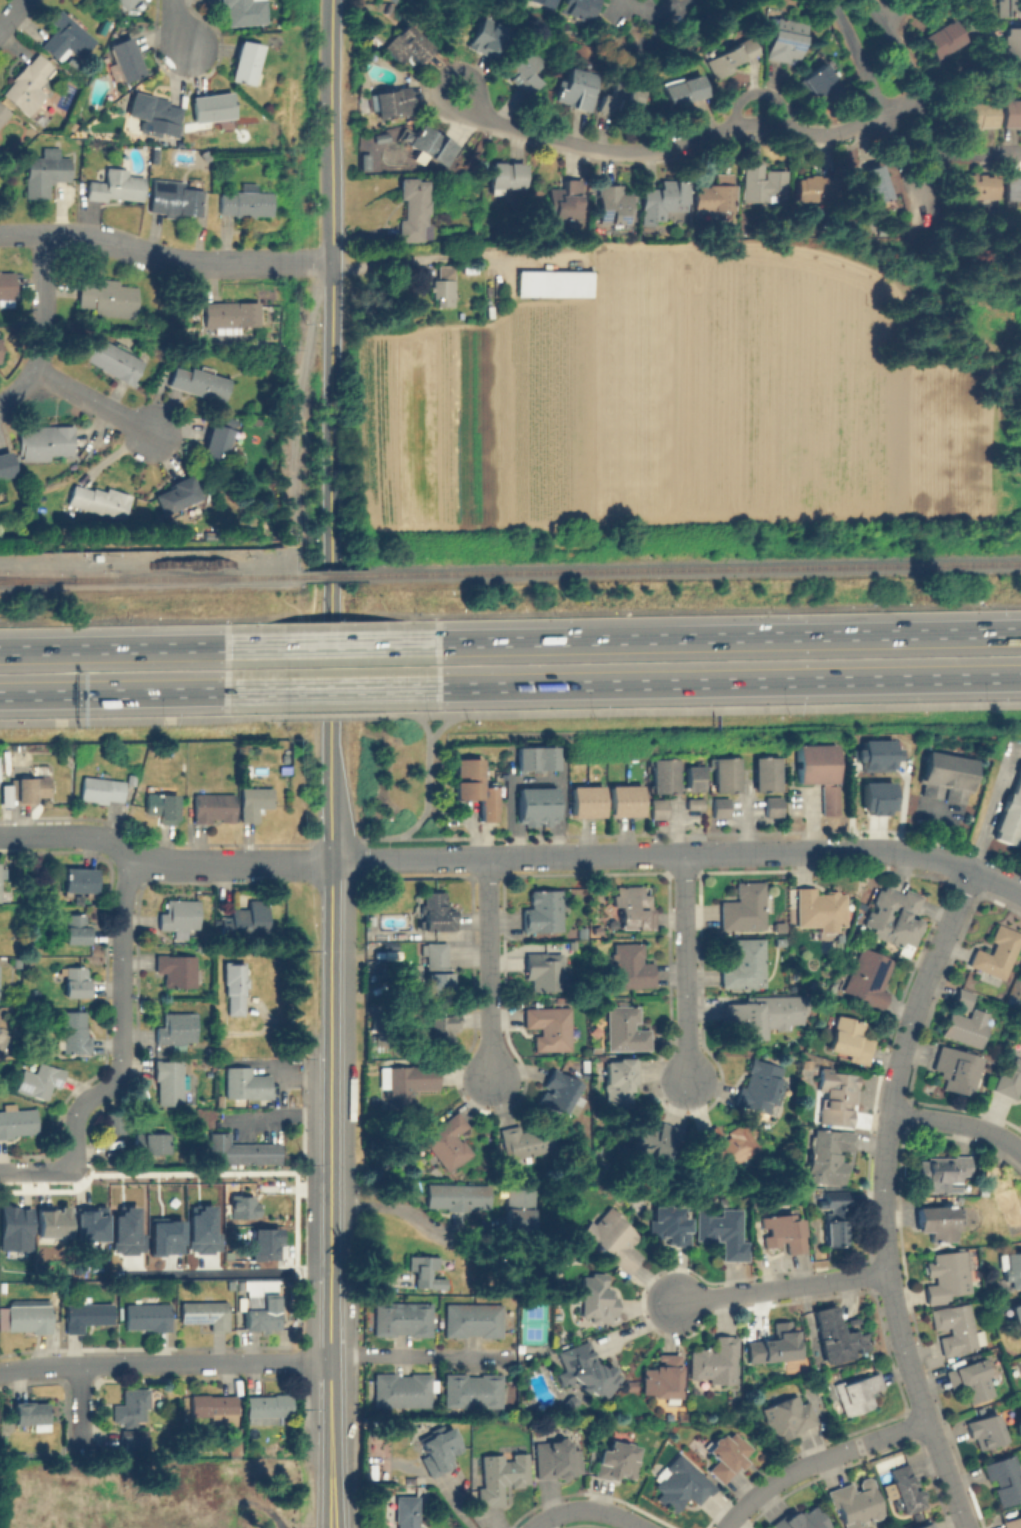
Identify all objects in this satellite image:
building: (394, 1)
building: (128, 2)
building: (550, 2)
building: (1010, 7)
road: (896, 8)
building: (580, 9)
building: (391, 10)
building: (247, 11)
road: (12, 14)
road: (660, 15)
road: (178, 23)
building: (67, 35)
building: (946, 38)
building: (490, 40)
building: (788, 40)
building: (1013, 45)
building: (408, 46)
building: (733, 55)
building: (127, 56)
building: (248, 60)
building: (525, 67)
building: (29, 82)
building: (825, 83)
building: (685, 85)
building: (578, 89)
building: (623, 98)
building: (392, 101)
building: (214, 106)
building: (3, 111)
building: (1011, 112)
building: (156, 113)
building: (979, 113)
building: (73, 122)
building: (380, 136)
road: (684, 139)
building: (430, 143)
road: (977, 151)
building: (182, 155)
building: (155, 156)
building: (365, 163)
building: (46, 172)
building: (508, 175)
building: (764, 182)
building: (116, 183)
building: (873, 185)
building: (978, 187)
building: (1014, 187)
building: (817, 189)
building: (666, 194)
building: (717, 194)
building: (175, 198)
road: (920, 199)
building: (567, 200)
building: (246, 201)
road: (333, 203)
building: (616, 204)
building: (416, 210)
road: (922, 213)
road: (585, 250)
road: (164, 260)
building: (554, 282)
building: (445, 285)
building: (7, 287)
building: (109, 296)
building: (231, 312)
building: (460, 313)
road: (43, 329)
building: (114, 358)
building: (200, 381)
road: (93, 402)
crop: (672, 403)
building: (256, 419)
building: (231, 422)
building: (46, 440)
building: (214, 444)
building: (6, 463)
building: (178, 493)
building: (99, 499)
road: (284, 553)
road: (331, 563)
railway: (692, 572)
railway: (333, 577)
railway: (35, 579)
railway: (151, 580)
road: (713, 632)
road: (333, 639)
road: (130, 644)
road: (714, 681)
road: (334, 688)
road: (130, 692)
road: (714, 708)
road: (334, 714)
road: (130, 717)
road: (417, 726)
building: (878, 755)
building: (535, 757)
building: (813, 763)
building: (722, 765)
building: (763, 765)
building: (661, 767)
building: (944, 773)
building: (691, 777)
building: (723, 782)
building: (763, 782)
building: (661, 784)
building: (29, 787)
building: (102, 788)
building: (473, 789)
road: (331, 791)
building: (880, 797)
building: (826, 799)
building: (255, 801)
building: (586, 801)
building: (625, 801)
building: (692, 803)
building: (163, 805)
building: (535, 805)
building: (215, 806)
building: (770, 806)
building: (718, 807)
building: (656, 808)
building: (1009, 810)
road: (423, 813)
road: (134, 848)
road: (679, 854)
road: (299, 863)
building: (2, 871)
building: (80, 878)
building: (743, 907)
building: (820, 908)
building: (634, 909)
building: (542, 912)
building: (435, 913)
building: (179, 916)
building: (894, 916)
building: (243, 921)
building: (77, 929)
road: (330, 949)
building: (997, 952)
building: (16, 961)
building: (744, 962)
building: (29, 965)
building: (631, 965)
road: (486, 969)
road: (683, 969)
building: (177, 970)
building: (434, 970)
building: (544, 970)
building: (867, 977)
building: (78, 981)
building: (1020, 983)
building: (235, 985)
building: (831, 989)
building: (963, 997)
road: (122, 1014)
building: (747, 1018)
building: (550, 1028)
building: (626, 1028)
building: (176, 1030)
building: (971, 1030)
building: (74, 1032)
building: (444, 1034)
building: (850, 1039)
building: (372, 1064)
building: (956, 1067)
building: (621, 1074)
building: (39, 1080)
building: (169, 1081)
building: (1008, 1081)
building: (247, 1084)
building: (761, 1085)
building: (405, 1086)
building: (558, 1092)
building: (838, 1094)
road: (329, 1100)
building: (17, 1121)
road: (958, 1121)
building: (116, 1122)
building: (148, 1142)
building: (528, 1142)
building: (656, 1142)
building: (448, 1143)
building: (728, 1146)
building: (241, 1150)
building: (830, 1156)
road: (37, 1161)
building: (943, 1172)
road: (329, 1184)
building: (454, 1196)
road: (883, 1197)
building: (836, 1198)
road: (393, 1208)
building: (516, 1210)
building: (233, 1216)
building: (937, 1221)
building: (124, 1225)
building: (668, 1225)
building: (87, 1227)
building: (163, 1227)
building: (48, 1228)
building: (14, 1229)
building: (836, 1229)
building: (725, 1232)
building: (779, 1232)
building: (611, 1237)
building: (258, 1250)
building: (1012, 1269)
building: (421, 1273)
building: (948, 1275)
road: (328, 1282)
road: (778, 1287)
building: (597, 1298)
building: (261, 1311)
building: (205, 1313)
building: (87, 1315)
building: (148, 1315)
building: (30, 1317)
building: (1016, 1317)
building: (401, 1319)
building: (472, 1320)
building: (955, 1329)
building: (837, 1334)
building: (774, 1347)
road: (420, 1355)
building: (718, 1359)
building: (1019, 1359)
road: (163, 1362)
building: (586, 1369)
building: (662, 1377)
building: (972, 1380)
building: (402, 1390)
building: (473, 1390)
building: (859, 1391)
building: (569, 1404)
building: (132, 1405)
building: (215, 1407)
building: (268, 1407)
road: (81, 1410)
building: (736, 1413)
building: (31, 1414)
building: (786, 1416)
building: (984, 1430)
building: (134, 1441)
road: (331, 1443)
building: (231, 1448)
building: (440, 1450)
building: (726, 1455)
building: (556, 1459)
road: (814, 1459)
building: (617, 1461)
building: (501, 1476)
building: (1005, 1478)
building: (680, 1484)
building: (905, 1490)
building: (853, 1503)
building: (407, 1511)
road: (591, 1511)
building: (802, 1519)
building: (190, 1521)
building: (1012, 1522)
road: (737, 1523)
building: (925, 1524)

